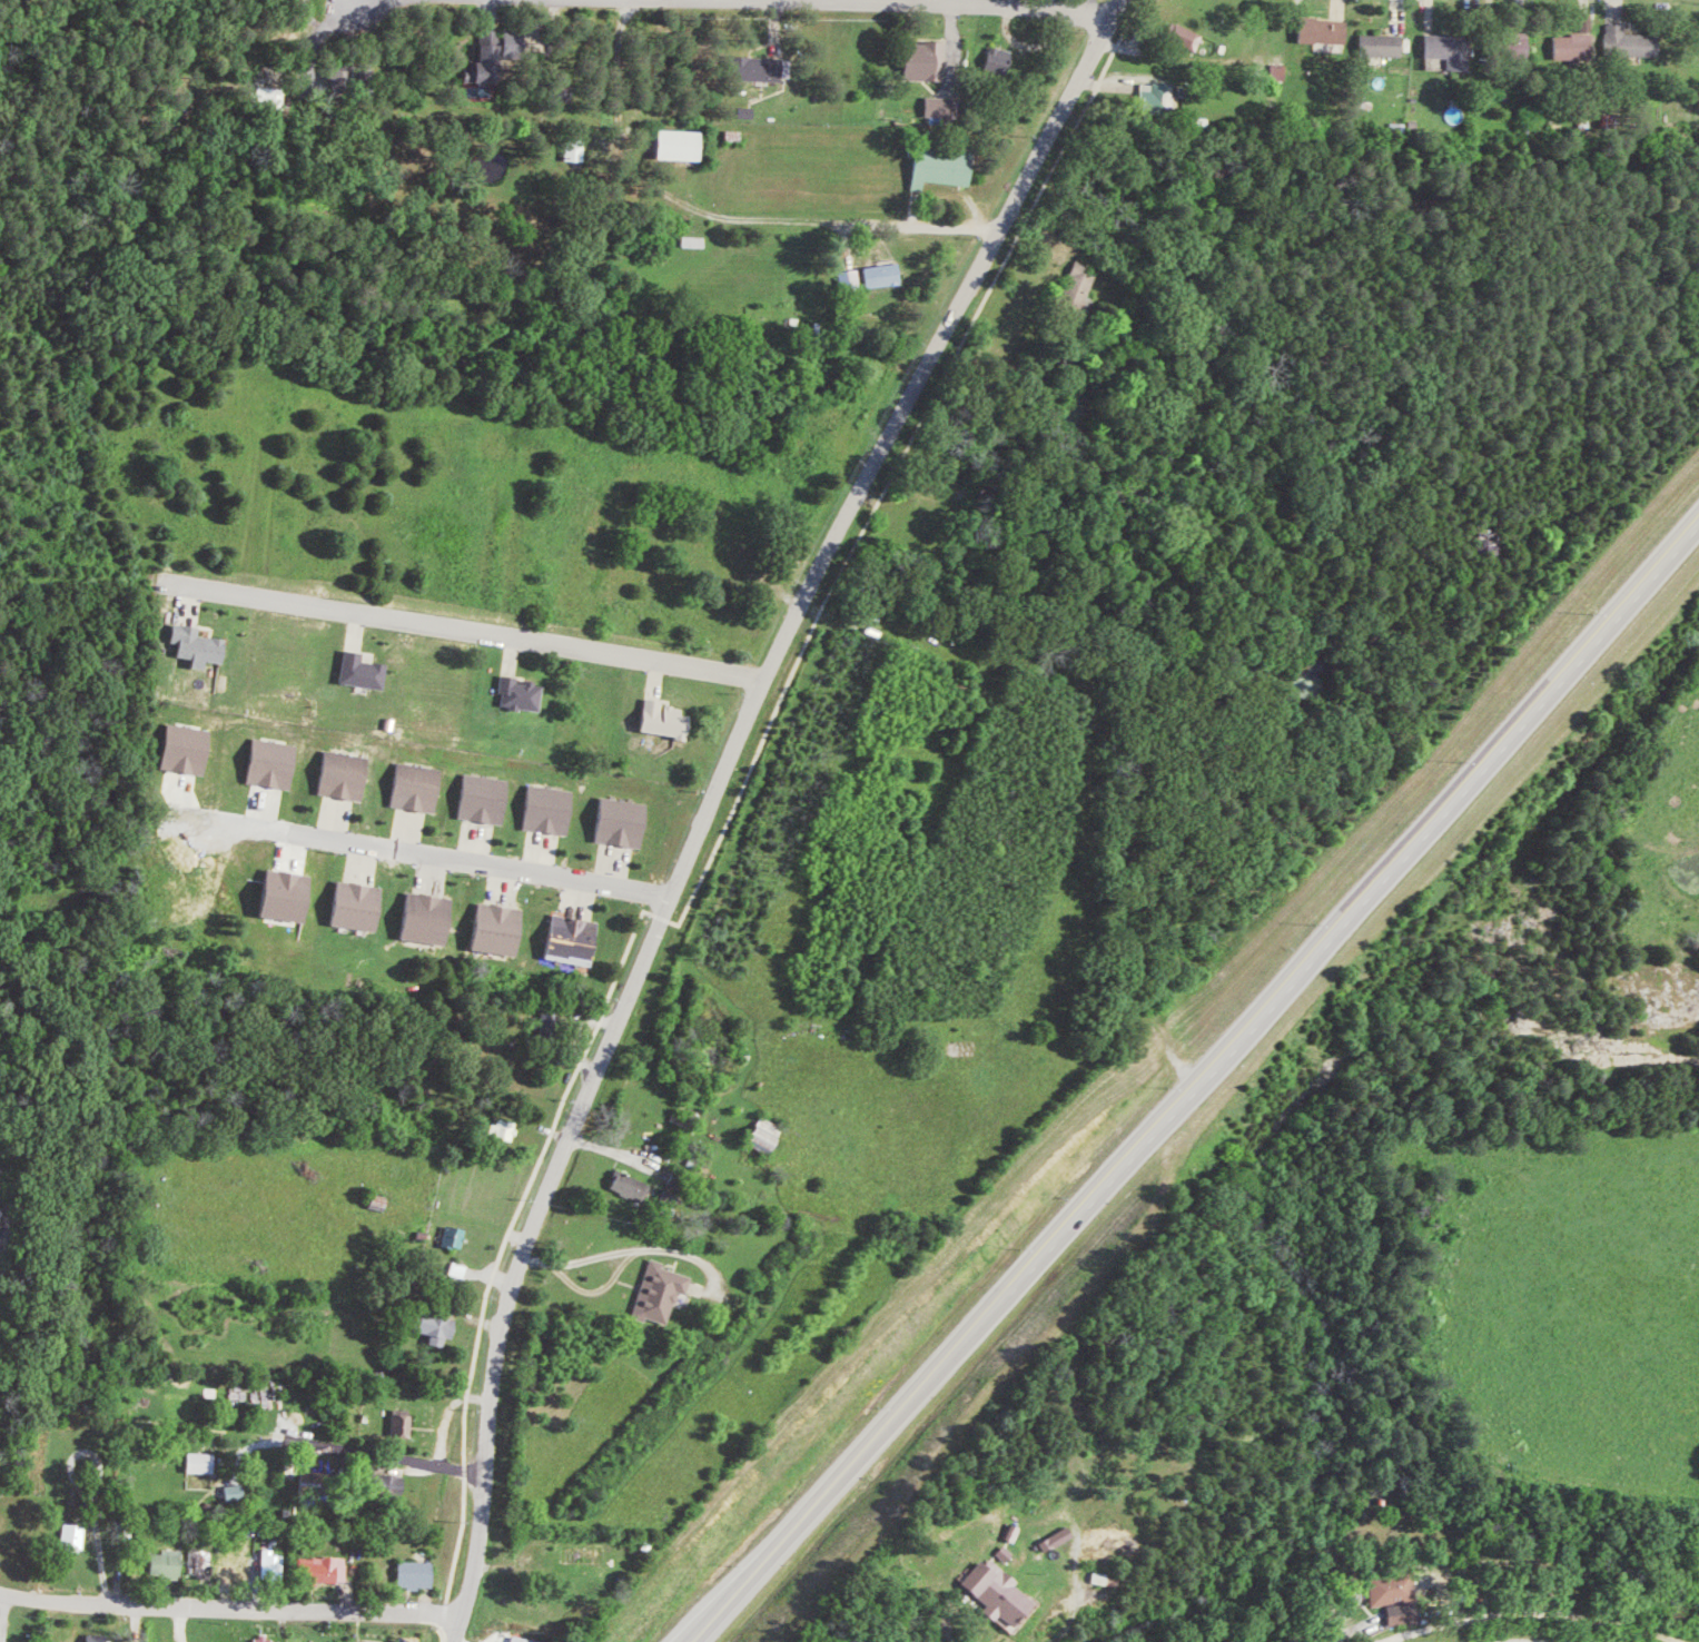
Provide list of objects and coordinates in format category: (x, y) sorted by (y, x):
road: (809, 2)
building: (1328, 30)
building: (1188, 36)
building: (1580, 41)
building: (1633, 41)
building: (1520, 43)
building: (1386, 44)
building: (1453, 49)
building: (488, 57)
building: (1001, 58)
building: (927, 60)
building: (759, 68)
building: (1285, 71)
building: (1163, 95)
building: (277, 98)
building: (940, 107)
building: (750, 111)
building: (682, 144)
building: (580, 149)
building: (946, 165)
road: (946, 225)
building: (700, 241)
building: (887, 275)
building: (1084, 284)
road: (471, 631)
building: (200, 645)
building: (365, 671)
building: (523, 694)
building: (665, 720)
building: (188, 749)
building: (275, 763)
building: (346, 775)
building: (418, 788)
road: (718, 798)
building: (486, 799)
building: (551, 810)
building: (623, 822)
road: (249, 827)
road: (490, 865)
building: (287, 896)
road: (1351, 901)
building: (358, 906)
building: (427, 919)
building: (497, 929)
building: (573, 940)
building: (507, 1128)
building: (769, 1134)
building: (635, 1185)
building: (8, 1221)
building: (457, 1236)
road: (662, 1250)
building: (664, 1293)
building: (437, 1326)
building: (405, 1424)
road: (358, 1447)
building: (206, 1462)
road: (863, 1472)
building: (393, 1485)
building: (239, 1491)
building: (1018, 1532)
building: (77, 1536)
building: (1061, 1539)
building: (1010, 1552)
building: (171, 1563)
building: (208, 1563)
building: (243, 1563)
building: (278, 1563)
building: (329, 1570)
building: (419, 1574)
building: (1392, 1587)
building: (1002, 1591)
road: (228, 1610)
building: (1404, 1613)
building: (99, 1638)
building: (269, 1639)
building: (529, 1639)
building: (378, 1641)
building: (1609, 1641)

